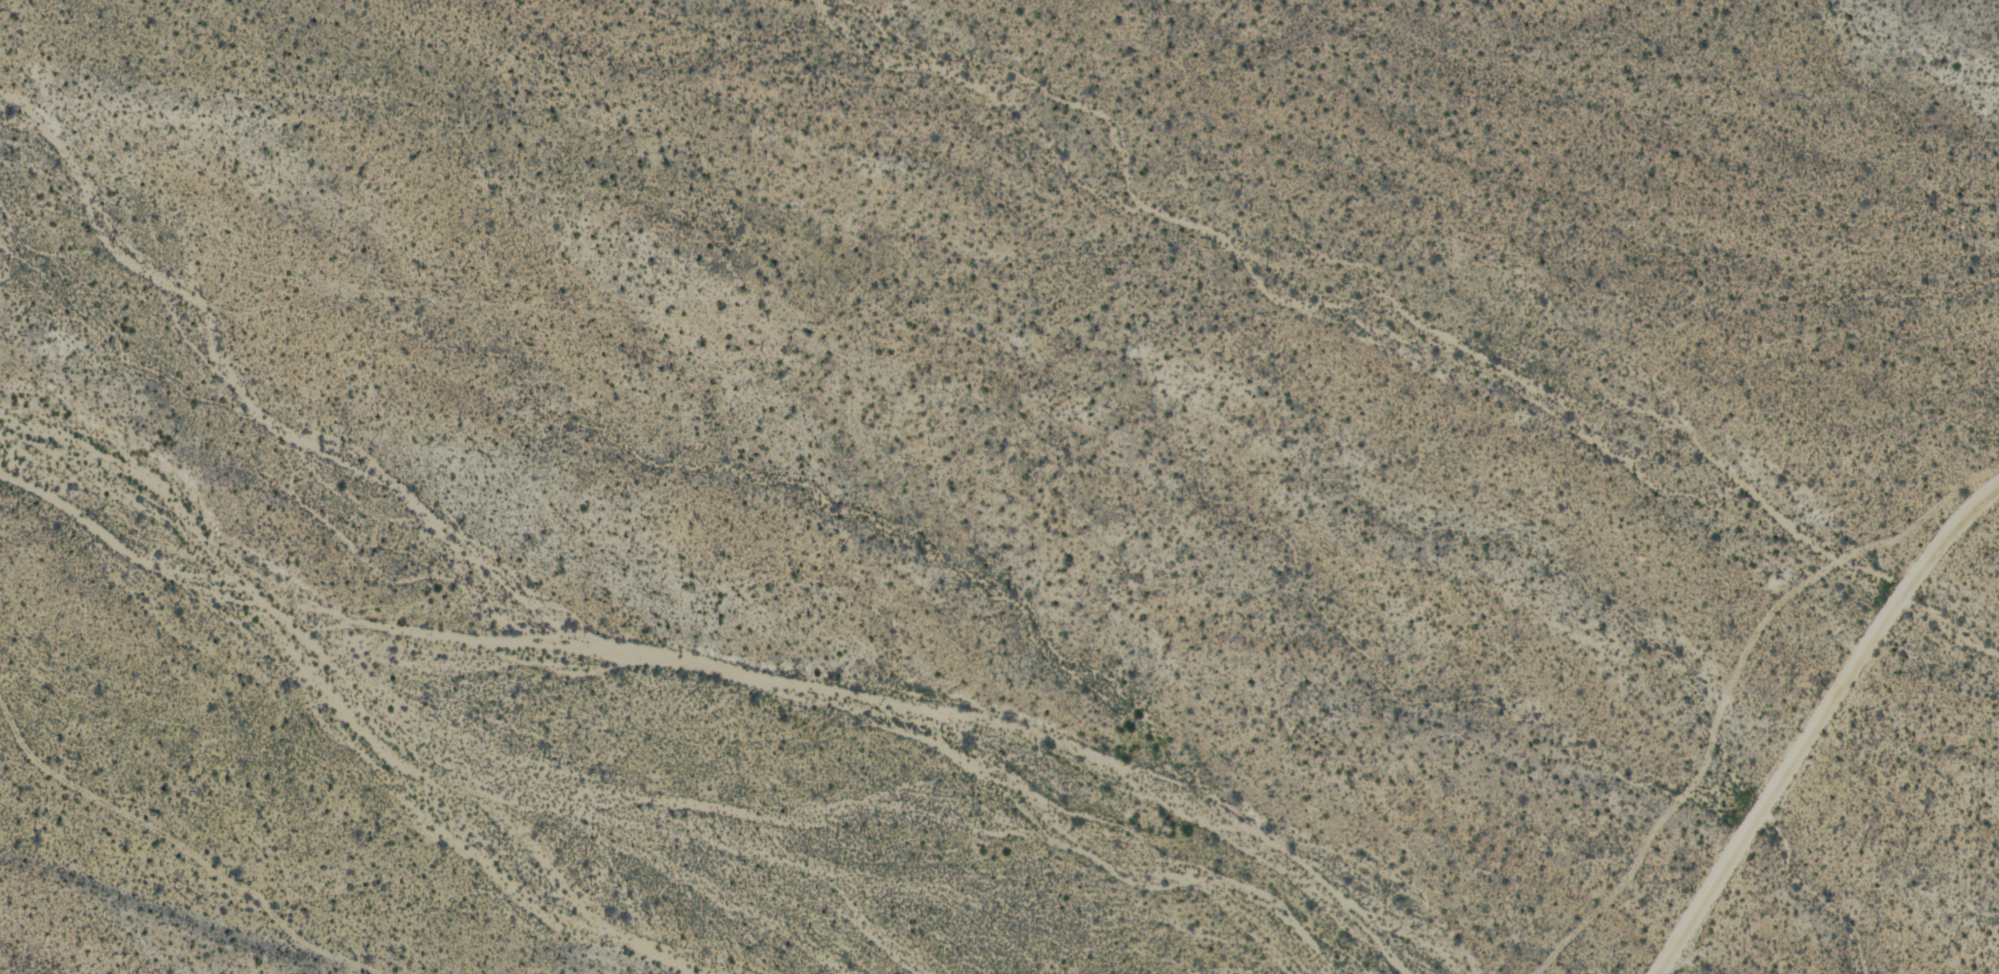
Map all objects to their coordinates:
road: (1818, 722)

